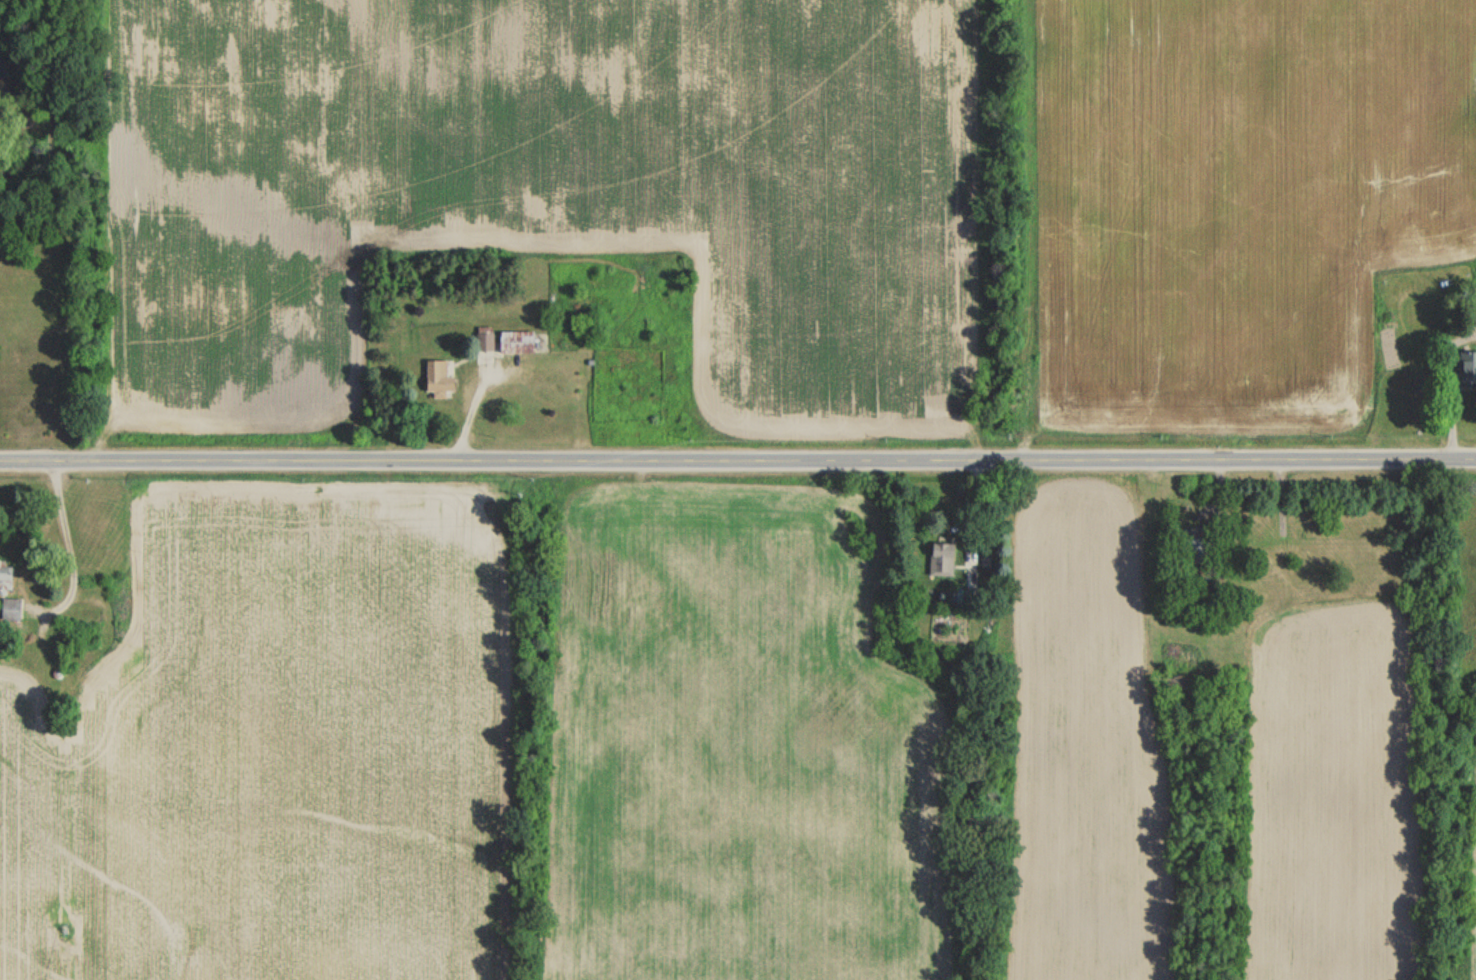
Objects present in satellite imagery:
building: (485, 338)
building: (519, 342)
building: (1470, 366)
building: (439, 379)
road: (737, 454)
building: (1196, 541)
road: (68, 546)
building: (942, 559)
building: (5, 578)
building: (12, 610)

